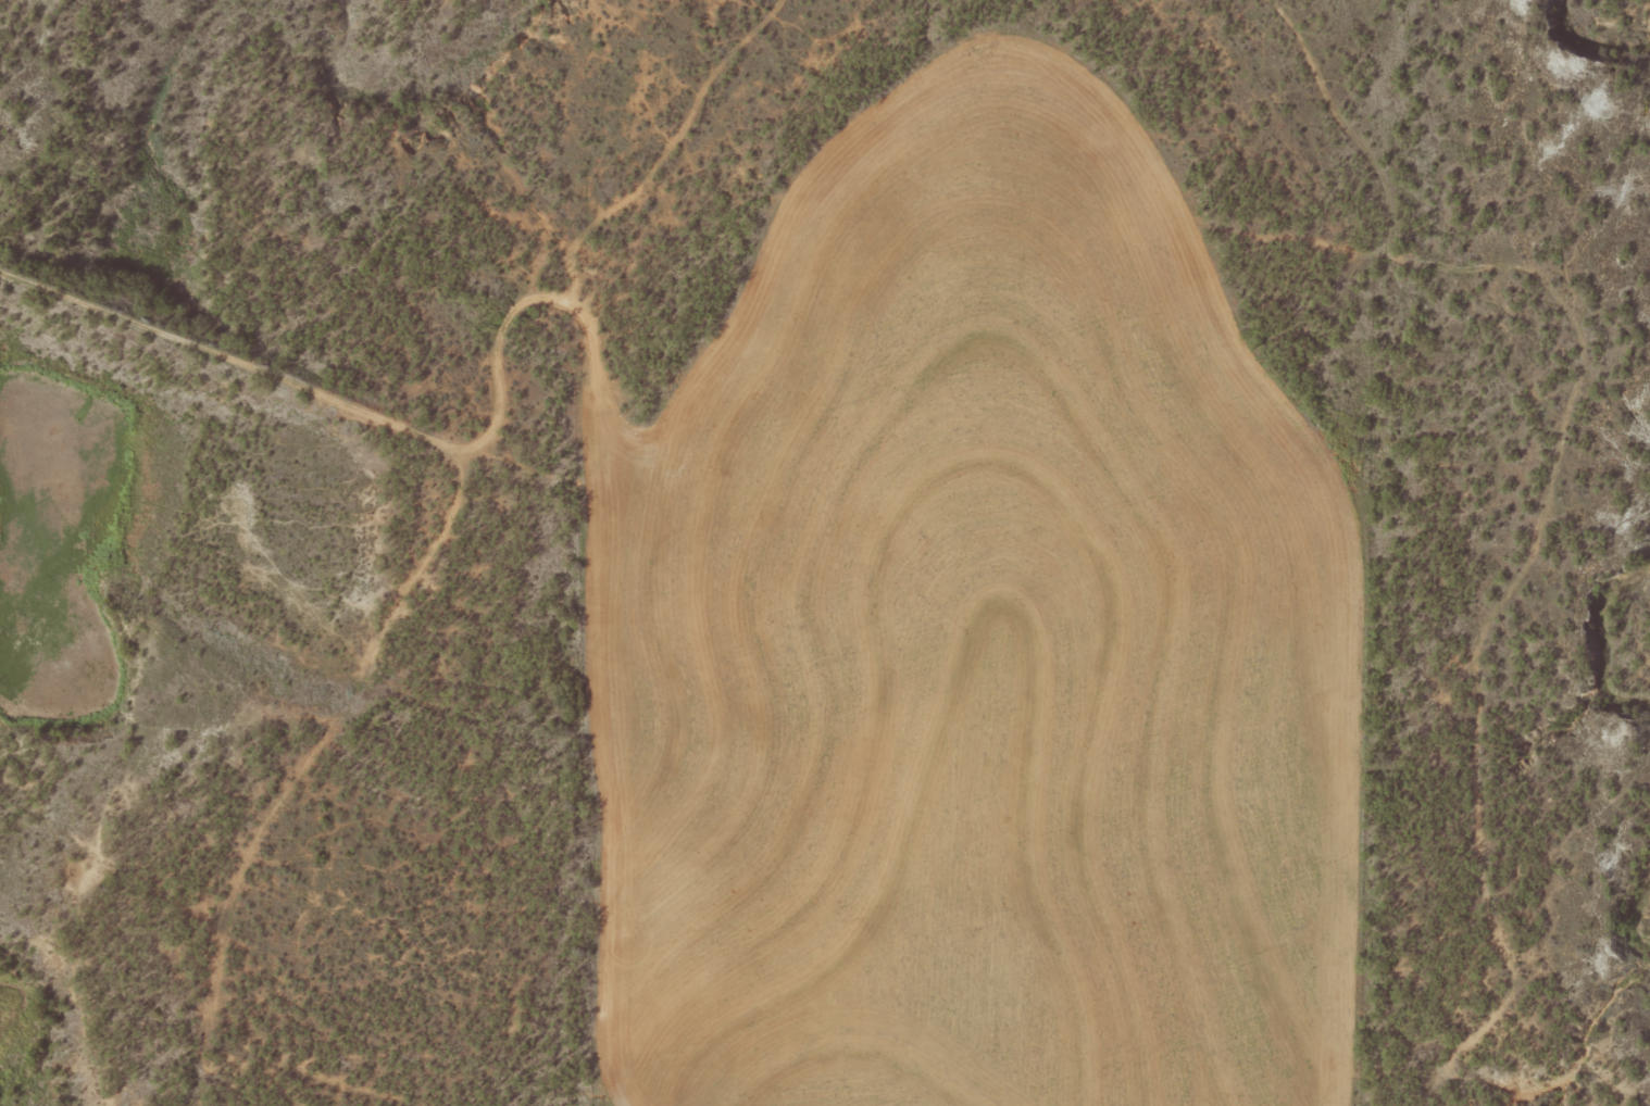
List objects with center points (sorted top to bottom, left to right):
road: (448, 646)

